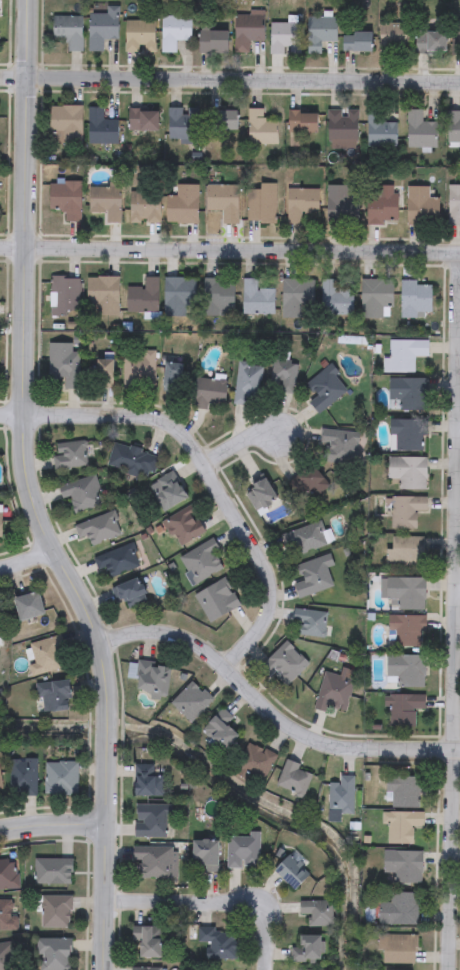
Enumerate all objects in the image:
building: (102, 27)
building: (247, 29)
building: (68, 31)
building: (174, 31)
building: (319, 32)
building: (139, 36)
building: (455, 37)
building: (284, 38)
building: (393, 38)
building: (213, 39)
building: (357, 42)
building: (430, 42)
road: (229, 81)
building: (143, 120)
building: (222, 120)
building: (302, 122)
building: (182, 124)
building: (65, 125)
building: (453, 126)
building: (100, 128)
building: (260, 128)
building: (341, 128)
building: (419, 130)
building: (379, 131)
building: (66, 199)
building: (223, 201)
building: (105, 202)
building: (185, 203)
building: (261, 203)
building: (301, 203)
building: (343, 204)
building: (382, 205)
building: (453, 205)
building: (145, 207)
building: (421, 207)
road: (230, 245)
building: (180, 295)
building: (64, 296)
building: (103, 296)
building: (143, 296)
building: (375, 296)
building: (218, 297)
building: (256, 298)
building: (297, 298)
building: (335, 299)
building: (415, 299)
building: (405, 354)
building: (64, 364)
building: (138, 371)
building: (102, 373)
building: (282, 376)
building: (172, 377)
building: (246, 382)
building: (324, 388)
building: (208, 393)
building: (407, 393)
road: (459, 417)
building: (406, 434)
building: (338, 446)
road: (234, 448)
building: (69, 454)
building: (131, 459)
road: (203, 469)
building: (408, 471)
building: (309, 482)
building: (167, 490)
road: (31, 492)
building: (79, 492)
building: (260, 494)
building: (405, 510)
building: (1, 523)
building: (183, 524)
building: (97, 527)
building: (303, 539)
building: (405, 548)
road: (25, 555)
building: (115, 560)
building: (200, 560)
building: (312, 574)
road: (458, 587)
building: (128, 591)
building: (402, 591)
building: (216, 599)
building: (29, 605)
building: (308, 622)
building: (405, 630)
road: (456, 635)
building: (47, 655)
building: (282, 663)
building: (406, 668)
building: (151, 679)
building: (333, 692)
building: (56, 695)
building: (191, 701)
road: (271, 706)
building: (402, 707)
building: (220, 731)
building: (255, 762)
building: (24, 776)
building: (62, 777)
building: (292, 779)
building: (149, 780)
building: (1, 781)
building: (403, 792)
building: (340, 795)
road: (52, 820)
building: (153, 820)
building: (402, 826)
building: (243, 851)
building: (208, 853)
building: (156, 861)
building: (403, 865)
building: (52, 871)
building: (290, 873)
building: (8, 874)
road: (216, 898)
building: (398, 909)
building: (55, 911)
building: (317, 912)
building: (8, 915)
building: (148, 940)
building: (220, 942)
building: (396, 949)
building: (306, 950)
building: (52, 954)
building: (5, 956)
building: (145, 969)

